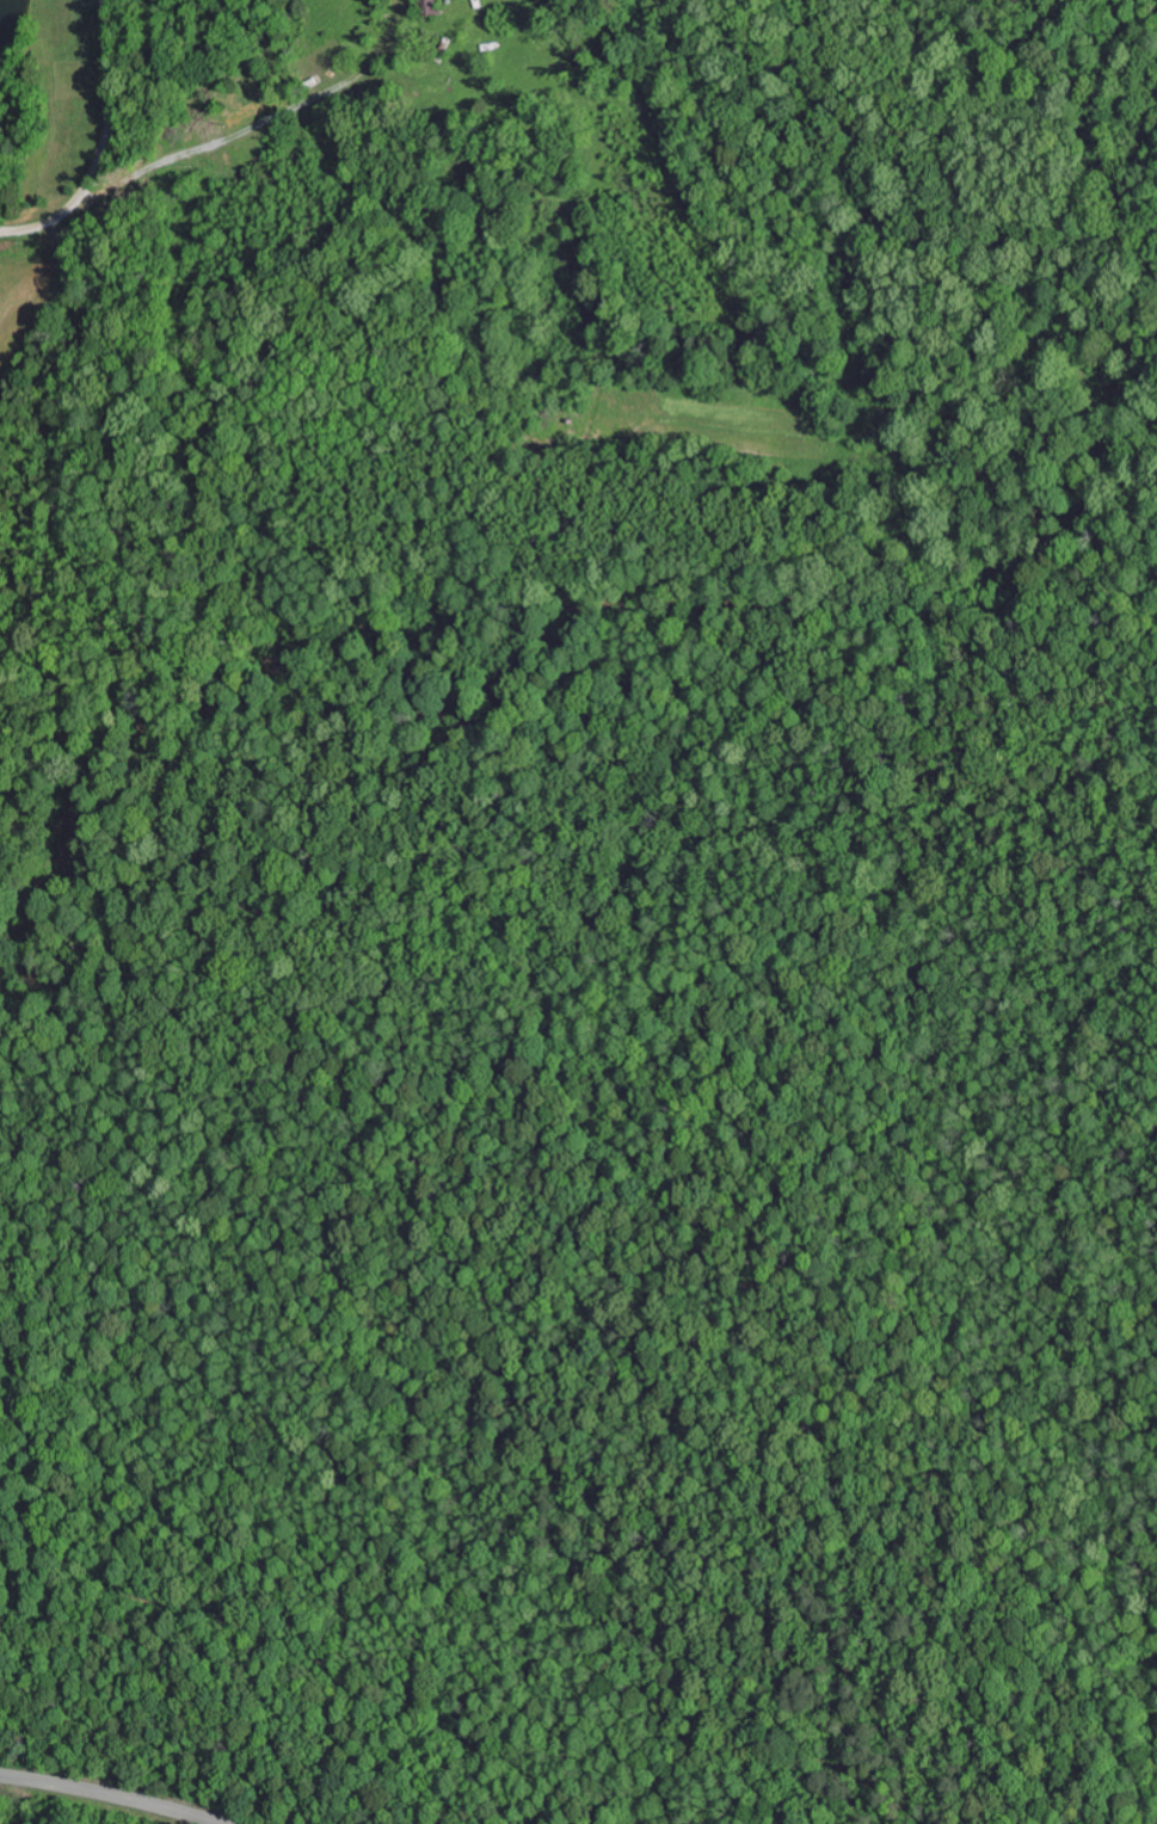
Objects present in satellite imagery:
road: (110, 1793)

